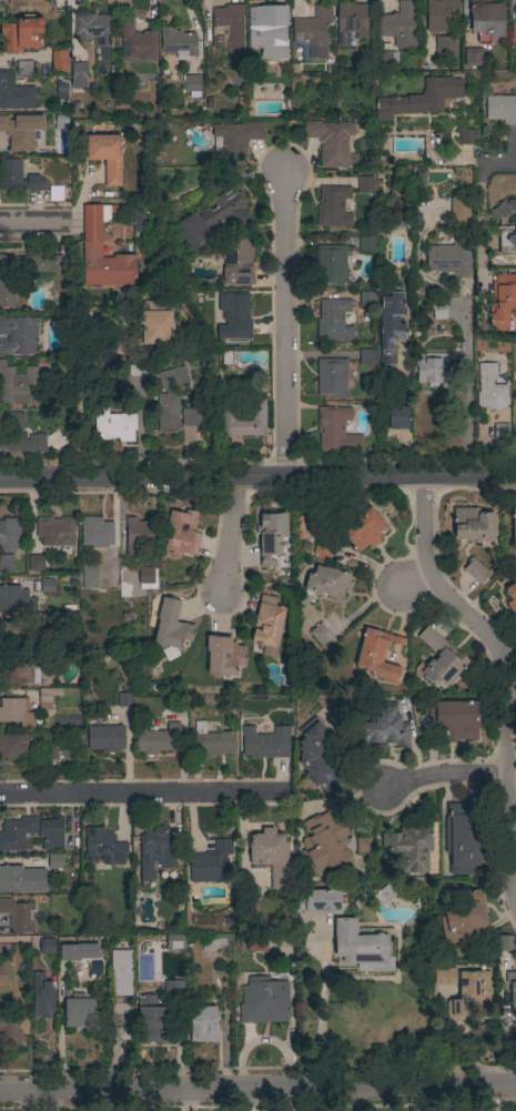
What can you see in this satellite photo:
building: (441, 14)
building: (486, 20)
building: (352, 21)
building: (515, 21)
building: (399, 26)
building: (94, 31)
building: (269, 31)
building: (313, 32)
building: (21, 33)
building: (229, 33)
building: (134, 42)
building: (178, 42)
building: (445, 46)
building: (395, 55)
building: (473, 57)
building: (59, 60)
building: (361, 63)
building: (23, 69)
building: (78, 75)
building: (191, 83)
building: (61, 91)
building: (14, 93)
building: (419, 99)
building: (500, 109)
building: (61, 122)
building: (21, 131)
building: (467, 137)
building: (234, 141)
building: (331, 141)
building: (107, 155)
building: (18, 178)
building: (365, 184)
building: (55, 193)
road: (482, 205)
building: (333, 206)
building: (458, 210)
building: (212, 216)
building: (146, 218)
building: (515, 218)
road: (29, 222)
building: (506, 226)
building: (91, 233)
building: (366, 244)
building: (394, 251)
building: (449, 259)
building: (236, 262)
building: (41, 263)
building: (331, 264)
building: (7, 281)
building: (367, 299)
building: (503, 302)
building: (235, 320)
building: (335, 320)
building: (155, 323)
building: (391, 323)
road: (283, 326)
building: (18, 335)
building: (124, 345)
building: (366, 356)
building: (138, 368)
building: (433, 368)
building: (332, 377)
road: (402, 377)
building: (18, 385)
building: (490, 388)
road: (467, 392)
building: (169, 396)
building: (196, 417)
building: (397, 417)
road: (403, 417)
building: (244, 422)
building: (113, 426)
building: (515, 428)
building: (336, 431)
building: (18, 435)
building: (500, 435)
road: (403, 452)
road: (257, 475)
building: (472, 525)
building: (514, 527)
building: (55, 531)
building: (364, 531)
building: (10, 532)
building: (182, 532)
building: (95, 533)
road: (227, 535)
building: (139, 538)
building: (272, 538)
building: (322, 546)
building: (6, 562)
building: (34, 563)
building: (475, 570)
building: (145, 575)
building: (89, 580)
road: (417, 582)
building: (327, 583)
building: (47, 585)
building: (512, 596)
building: (16, 598)
building: (48, 620)
building: (171, 626)
building: (266, 627)
building: (14, 634)
building: (322, 636)
building: (377, 655)
building: (223, 656)
building: (438, 659)
building: (18, 670)
road: (505, 673)
building: (47, 697)
building: (124, 699)
building: (16, 711)
building: (457, 719)
building: (383, 726)
building: (105, 738)
building: (154, 738)
building: (211, 741)
building: (266, 741)
building: (12, 746)
building: (49, 751)
building: (318, 757)
road: (447, 776)
road: (143, 794)
building: (17, 832)
building: (51, 834)
building: (462, 839)
building: (324, 846)
building: (363, 846)
building: (103, 847)
building: (408, 848)
building: (155, 852)
building: (271, 856)
building: (72, 859)
building: (54, 861)
building: (211, 863)
building: (21, 879)
building: (387, 891)
building: (318, 901)
building: (17, 916)
building: (462, 919)
building: (216, 941)
building: (175, 942)
building: (256, 943)
building: (504, 943)
building: (47, 947)
building: (361, 947)
building: (79, 951)
building: (3, 966)
building: (121, 972)
building: (445, 976)
building: (512, 988)
building: (174, 989)
building: (42, 996)
building: (469, 997)
building: (264, 1001)
road: (321, 1003)
building: (78, 1010)
building: (121, 1014)
building: (151, 1020)
building: (202, 1023)
road: (61, 1031)
building: (9, 1032)
building: (123, 1033)
road: (257, 1090)

